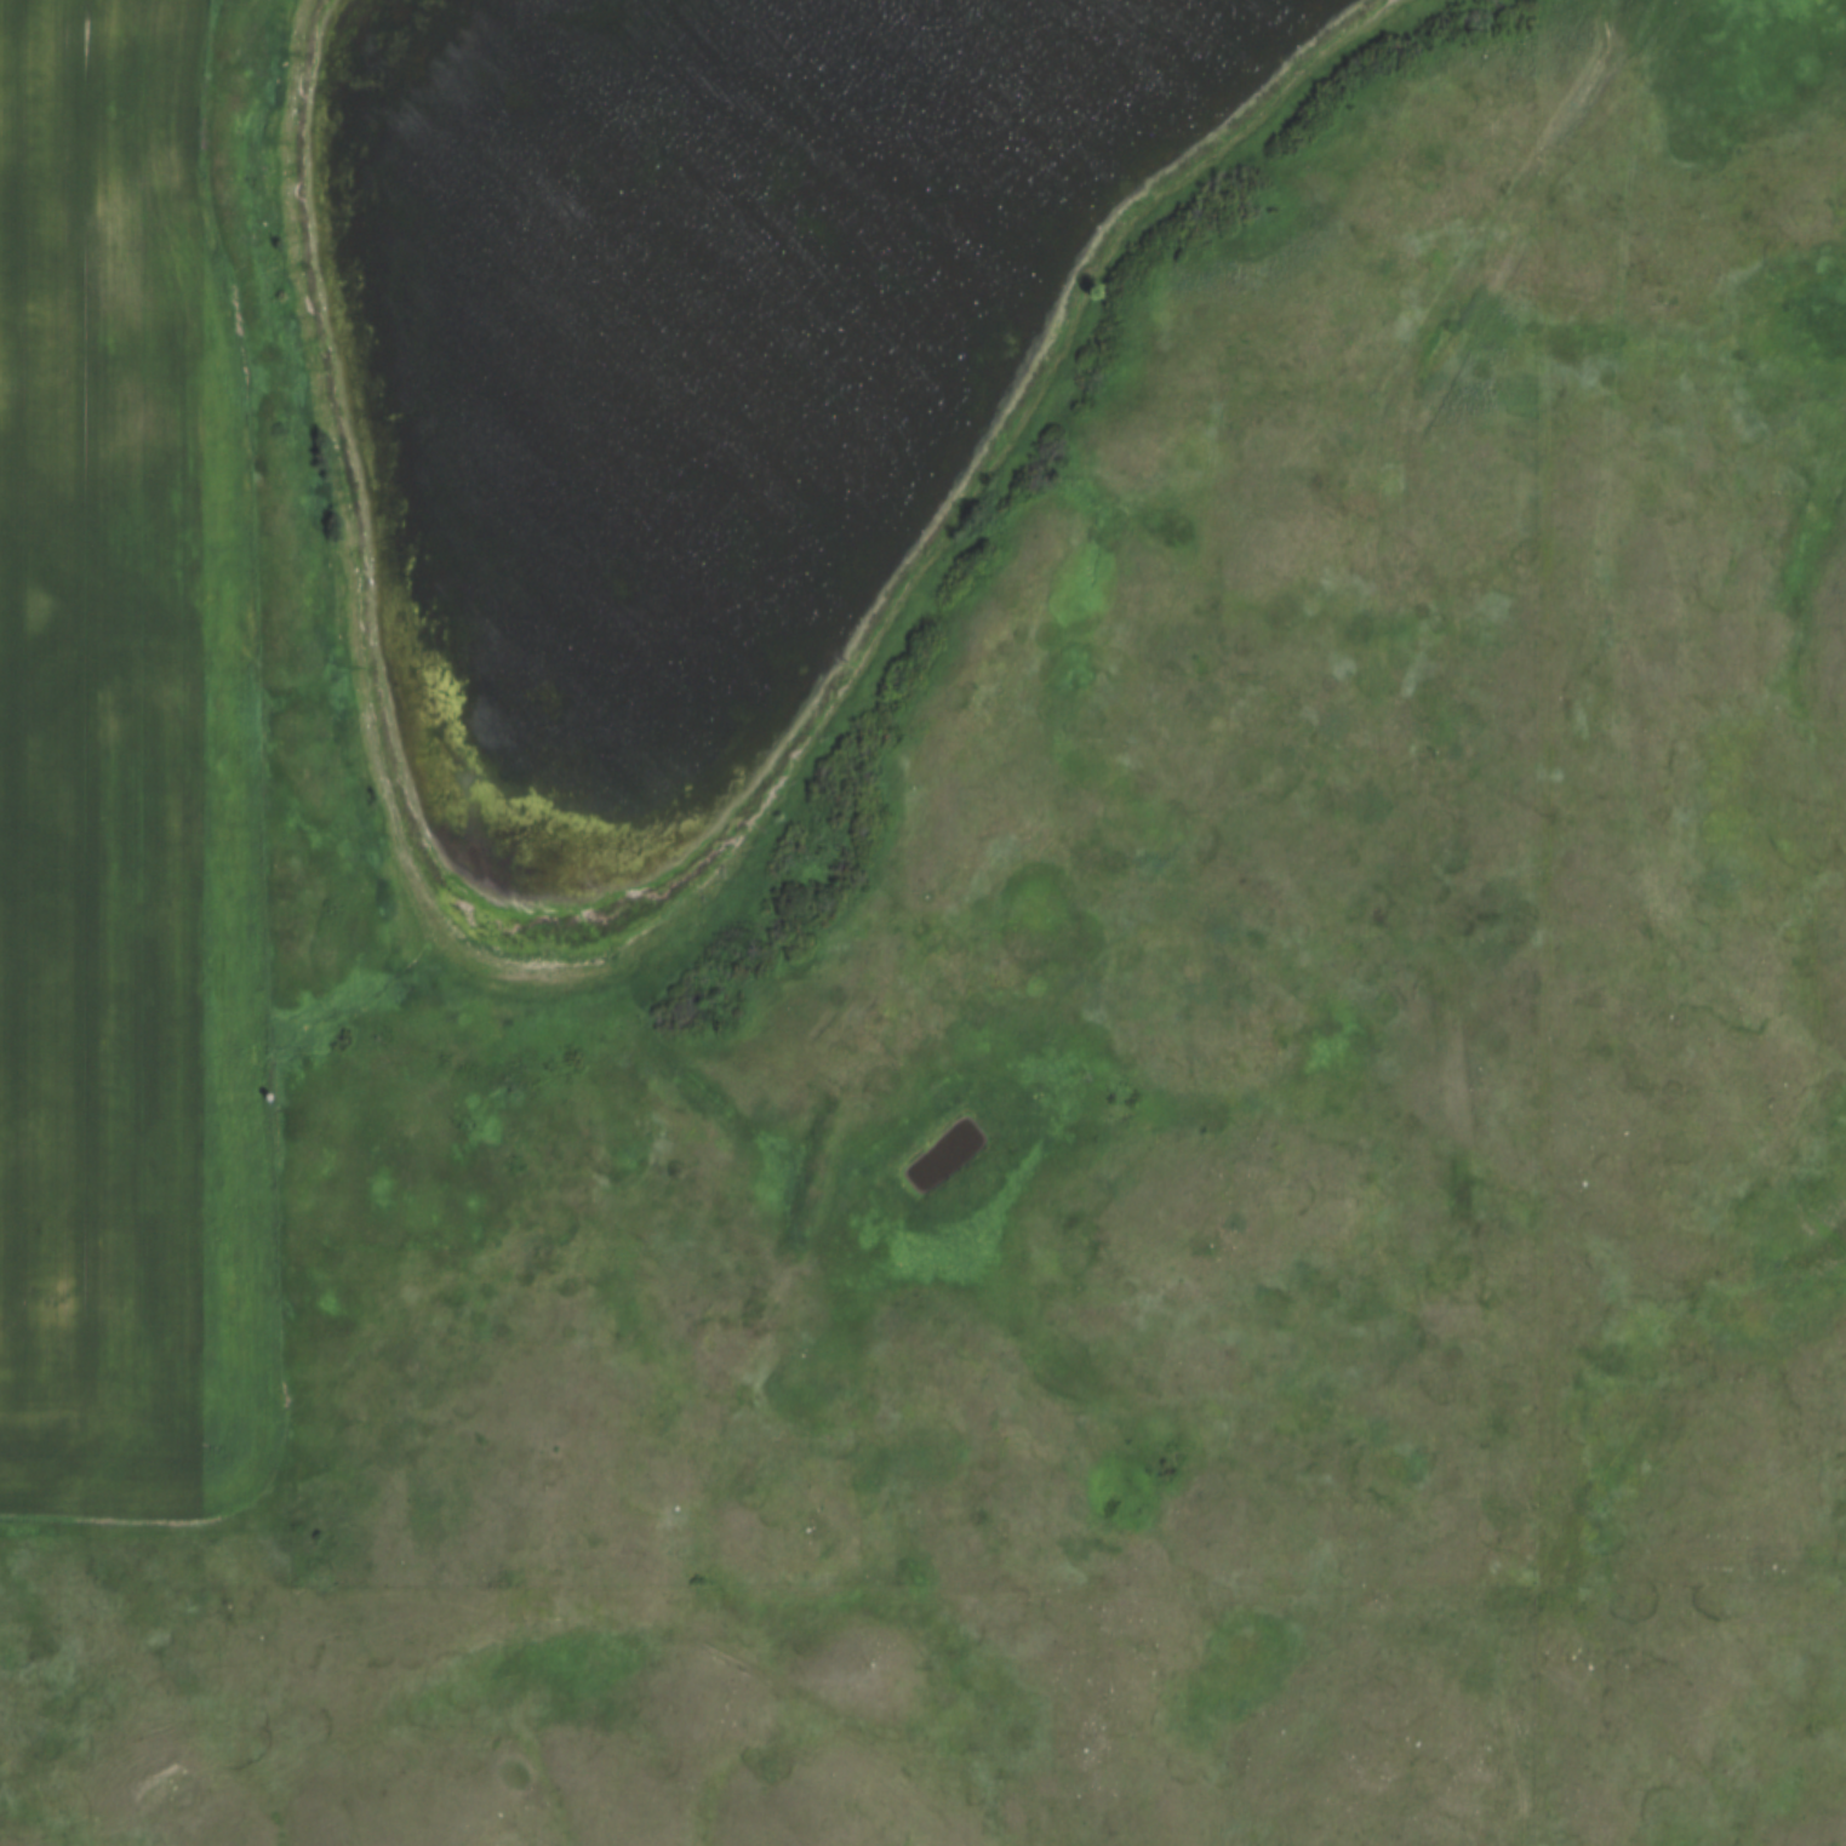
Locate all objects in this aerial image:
road: (1547, 909)
road: (1696, 1572)

